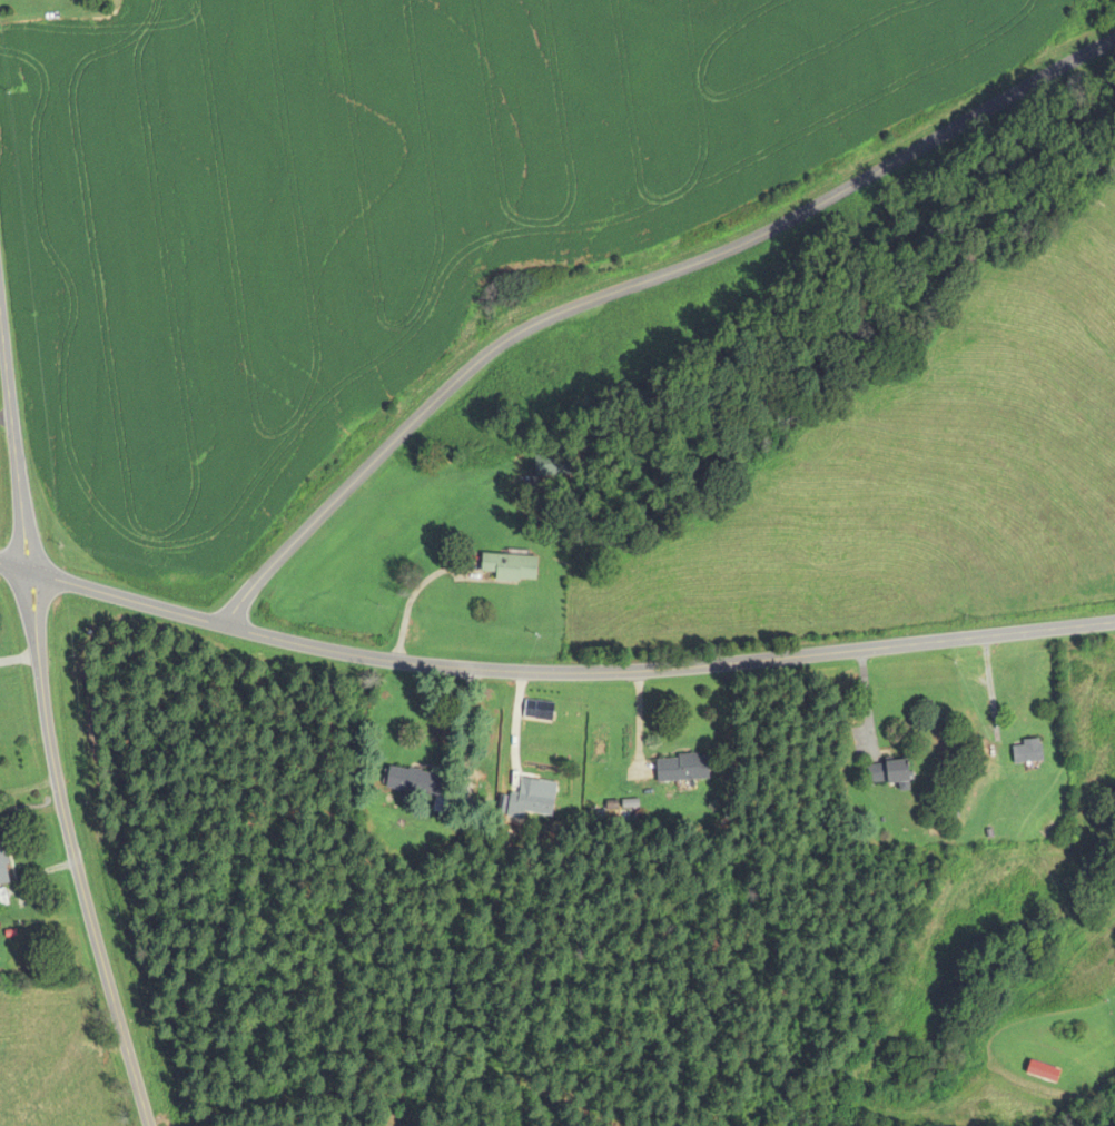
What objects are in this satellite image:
road: (642, 304)
building: (510, 567)
road: (552, 672)
road: (989, 690)
road: (867, 701)
building: (543, 711)
road: (46, 727)
building: (1026, 752)
building: (681, 768)
building: (887, 772)
building: (415, 782)
building: (535, 797)
building: (1, 869)

